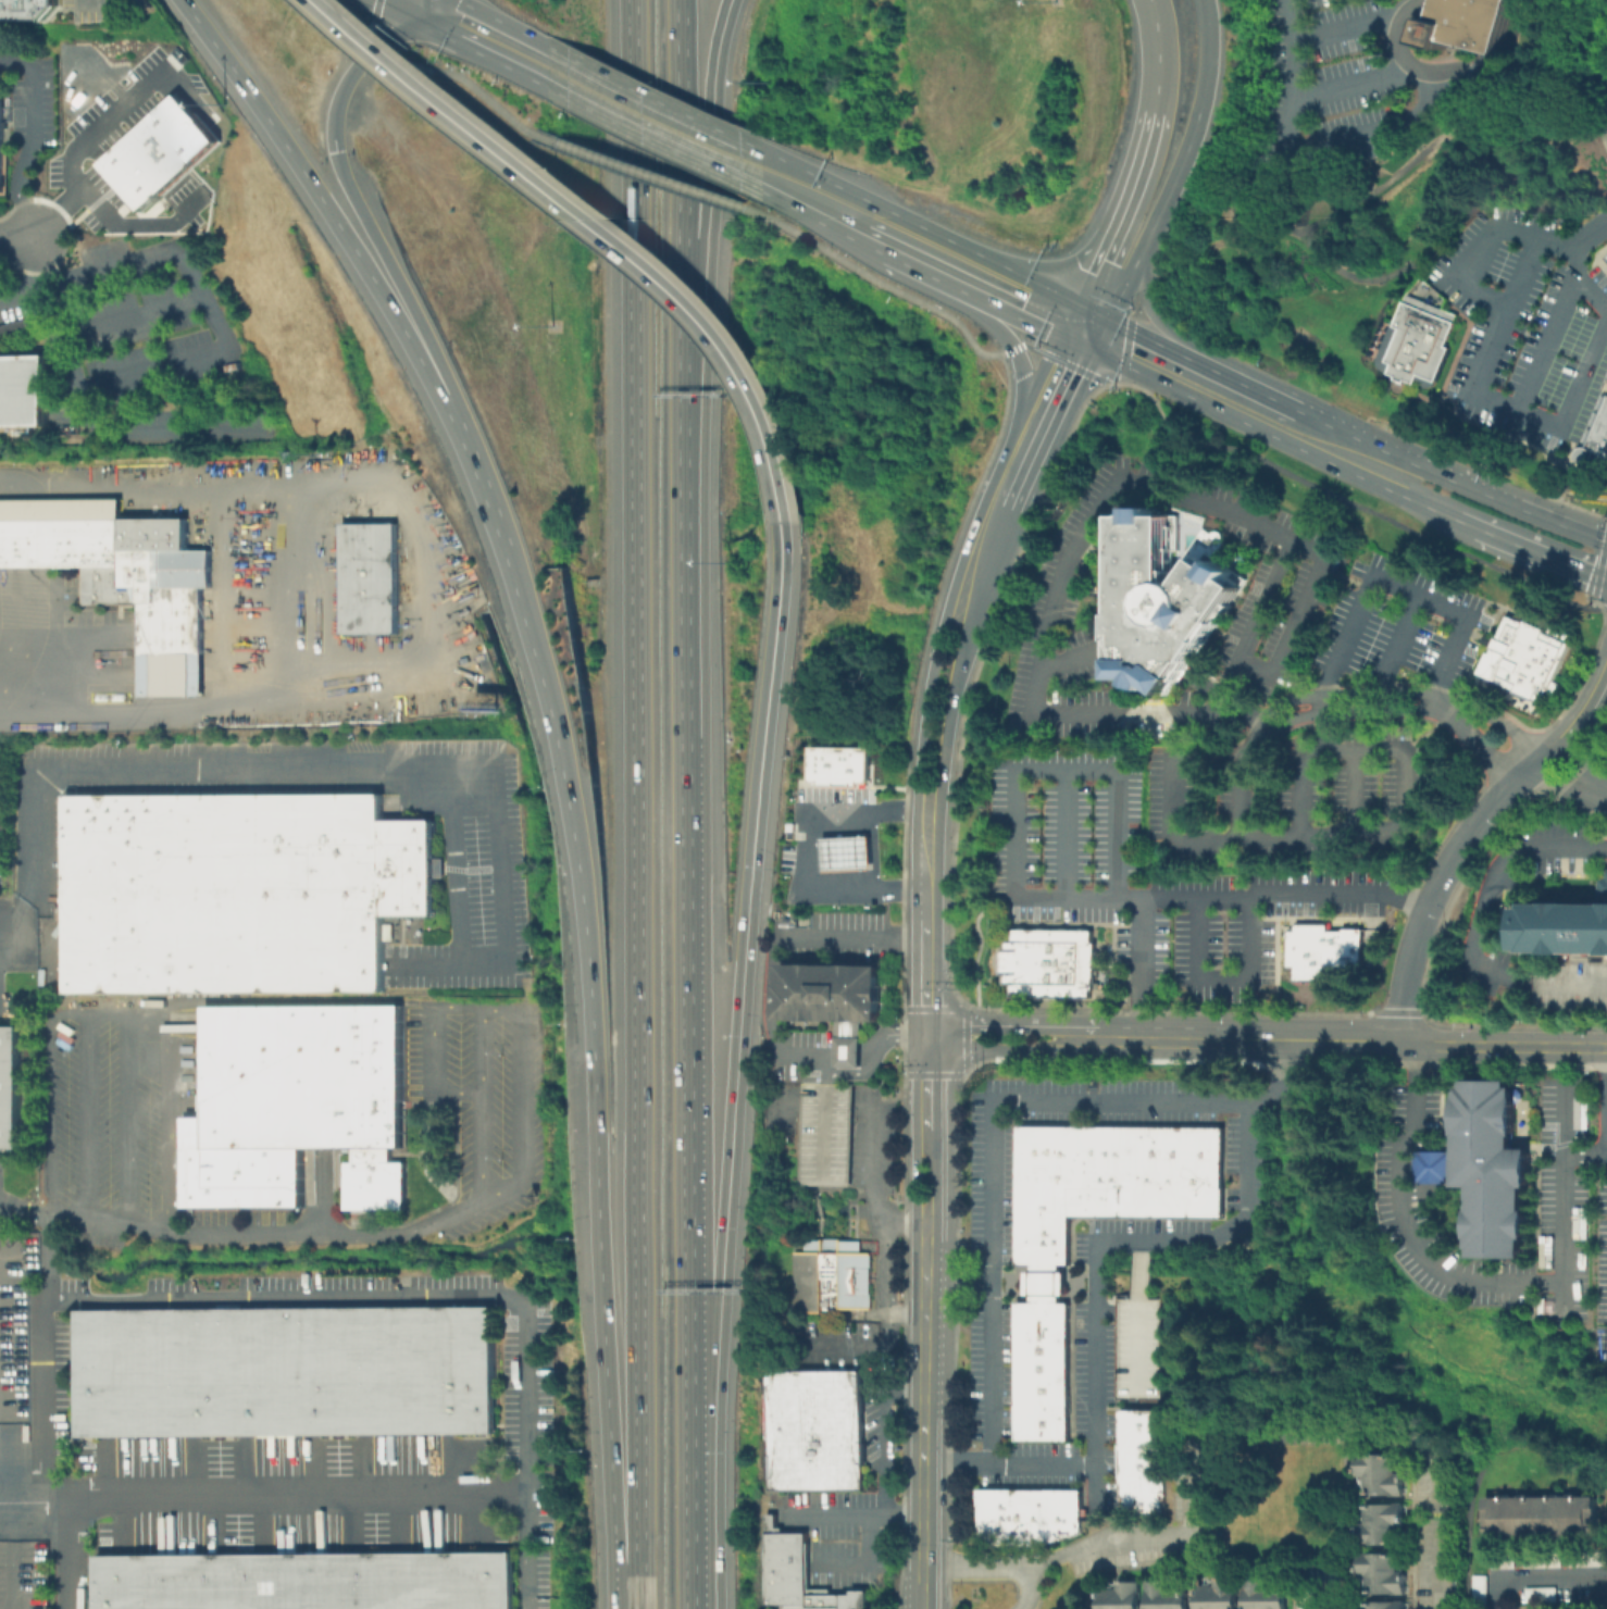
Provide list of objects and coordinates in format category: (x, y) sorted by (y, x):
road: (416, 1)
road: (419, 1)
traffic signals: (418, 3)
road: (104, 4)
road: (395, 8)
building: (29, 10)
road: (1605, 10)
road: (373, 12)
building: (1472, 24)
road: (397, 25)
road: (1348, 26)
road: (371, 36)
road: (483, 36)
road: (1159, 53)
road: (388, 54)
road: (1592, 61)
road: (139, 72)
road: (1354, 82)
road: (473, 88)
road: (1294, 93)
road: (1589, 101)
road: (1598, 103)
road: (641, 113)
road: (1419, 113)
road: (1438, 117)
road: (1598, 126)
road: (1194, 134)
road: (34, 136)
building: (2, 147)
building: (162, 154)
road: (747, 162)
road: (1405, 166)
road: (639, 171)
road: (683, 197)
road: (709, 197)
road: (813, 197)
road: (111, 203)
road: (53, 214)
road: (333, 214)
road: (1122, 219)
road: (598, 228)
road: (877, 230)
road: (1449, 235)
road: (16, 236)
road: (378, 242)
road: (923, 253)
road: (1477, 262)
road: (873, 278)
road: (26, 291)
road: (1592, 296)
road: (1117, 297)
road: (1021, 299)
road: (983, 311)
road: (1561, 312)
road: (134, 317)
road: (1507, 319)
road: (217, 323)
building: (13, 325)
parking lot: (1525, 326)
road: (1167, 327)
traffic signals: (1085, 328)
building: (1420, 339)
road: (1076, 347)
road: (1150, 357)
road: (1054, 358)
building: (23, 394)
road: (1024, 394)
road: (1578, 395)
road: (1051, 402)
road: (1253, 404)
building: (1600, 414)
road: (87, 415)
road: (1337, 446)
building: (1594, 446)
road: (1018, 474)
road: (487, 495)
road: (1497, 496)
road: (1418, 499)
road: (1347, 500)
road: (1084, 528)
road: (1606, 538)
road: (1528, 546)
road: (985, 552)
road: (684, 569)
road: (1598, 574)
road: (1603, 574)
building: (123, 576)
building: (370, 579)
road: (300, 586)
road: (1404, 587)
road: (431, 597)
road: (227, 599)
building: (1163, 602)
parking lot: (1280, 606)
road: (1300, 611)
road: (1497, 622)
parking lot: (1397, 626)
road: (1488, 640)
road: (1402, 645)
road: (55, 651)
building: (1521, 659)
road: (1068, 663)
road: (1346, 694)
road: (1450, 703)
road: (924, 714)
road: (948, 720)
road: (1328, 722)
road: (1505, 729)
road: (1484, 749)
road: (1336, 751)
building: (839, 764)
road: (1584, 768)
road: (348, 771)
road: (1359, 786)
road: (1511, 789)
road: (1567, 791)
parking lot: (1296, 794)
building: (2, 801)
road: (635, 804)
road: (1178, 810)
road: (1070, 833)
road: (810, 852)
building: (845, 852)
gas station: (845, 852)
road: (454, 869)
road: (923, 881)
parking lot: (1153, 886)
building: (242, 889)
road: (1045, 896)
road: (1485, 924)
building: (1567, 924)
road: (1436, 931)
road: (21, 938)
road: (772, 945)
building: (1320, 949)
road: (47, 960)
building: (1051, 964)
road: (1143, 968)
road: (50, 973)
road: (1404, 975)
road: (923, 977)
road: (1226, 977)
road: (739, 983)
building: (830, 1000)
road: (463, 1008)
road: (67, 1021)
road: (149, 1023)
road: (998, 1025)
road: (893, 1036)
traffic signals: (924, 1036)
road: (1234, 1042)
road: (1503, 1045)
road: (481, 1050)
road: (997, 1050)
road: (830, 1056)
road: (847, 1056)
road: (864, 1056)
road: (1266, 1061)
road: (825, 1069)
road: (854, 1073)
road: (593, 1074)
road: (923, 1087)
building: (11, 1089)
road: (686, 1093)
building: (299, 1098)
road: (782, 1106)
road: (823, 1107)
road: (995, 1112)
road: (824, 1131)
building: (822, 1133)
parking lot: (822, 1133)
road: (1429, 1142)
building: (1085, 1145)
building: (1174, 1150)
building: (1052, 1157)
road: (1586, 1159)
building: (1107, 1169)
road: (1440, 1169)
building: (1492, 1170)
road: (875, 1171)
road: (915, 1181)
road: (931, 1181)
parking lot: (1561, 1192)
road: (1421, 1193)
road: (324, 1195)
building: (1201, 1197)
building: (1149, 1199)
building: (1039, 1201)
parking lot: (1600, 1231)
road: (50, 1234)
road: (272, 1235)
road: (1106, 1245)
building: (1039, 1251)
road: (22, 1253)
road: (892, 1270)
building: (830, 1275)
road: (1478, 1281)
road: (975, 1282)
building: (1044, 1283)
road: (1044, 1283)
road: (1077, 1283)
road: (499, 1295)
building: (1138, 1315)
building: (1041, 1319)
road: (1142, 1335)
road: (879, 1349)
building: (1041, 1350)
building: (1039, 1370)
building: (292, 1371)
building: (1039, 1393)
road: (923, 1415)
building: (1039, 1415)
building: (1139, 1424)
building: (814, 1430)
building: (1039, 1433)
road: (887, 1434)
building: (1141, 1457)
road: (1009, 1464)
road: (365, 1467)
road: (460, 1468)
road: (244, 1469)
road: (107, 1470)
road: (195, 1470)
building: (1384, 1477)
building: (1139, 1494)
road: (22, 1498)
building: (1540, 1512)
building: (1051, 1513)
road: (856, 1516)
building: (989, 1516)
building: (1016, 1516)
road: (482, 1521)
road: (401, 1522)
road: (215, 1523)
road: (351, 1523)
road: (126, 1524)
road: (263, 1524)
building: (1384, 1524)
road: (697, 1525)
road: (1440, 1542)
road: (528, 1551)
road: (1099, 1552)
road: (12, 1554)
road: (74, 1554)
road: (861, 1561)
building: (797, 1574)
building: (1383, 1575)
road: (1534, 1575)
building: (311, 1581)
road: (1033, 1591)
building: (1539, 1594)
building: (1267, 1596)
building: (1122, 1597)
building: (1168, 1597)
building: (1220, 1597)
building: (1332, 1607)
building: (1387, 1607)

